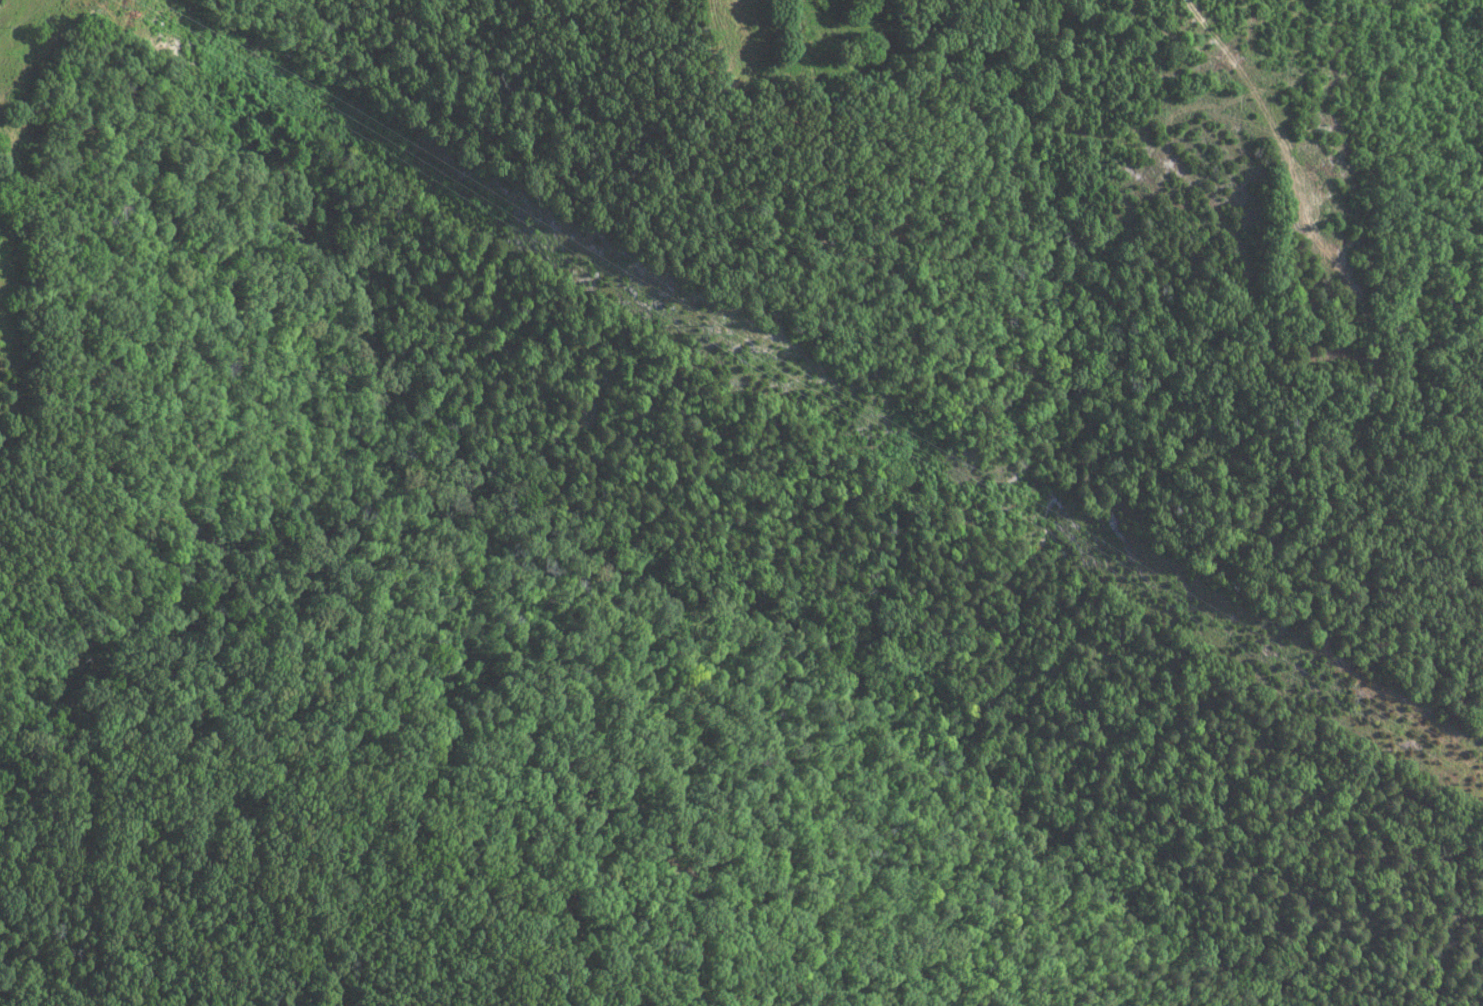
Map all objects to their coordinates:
power tower: (708, 334)
power tower: (1355, 701)

